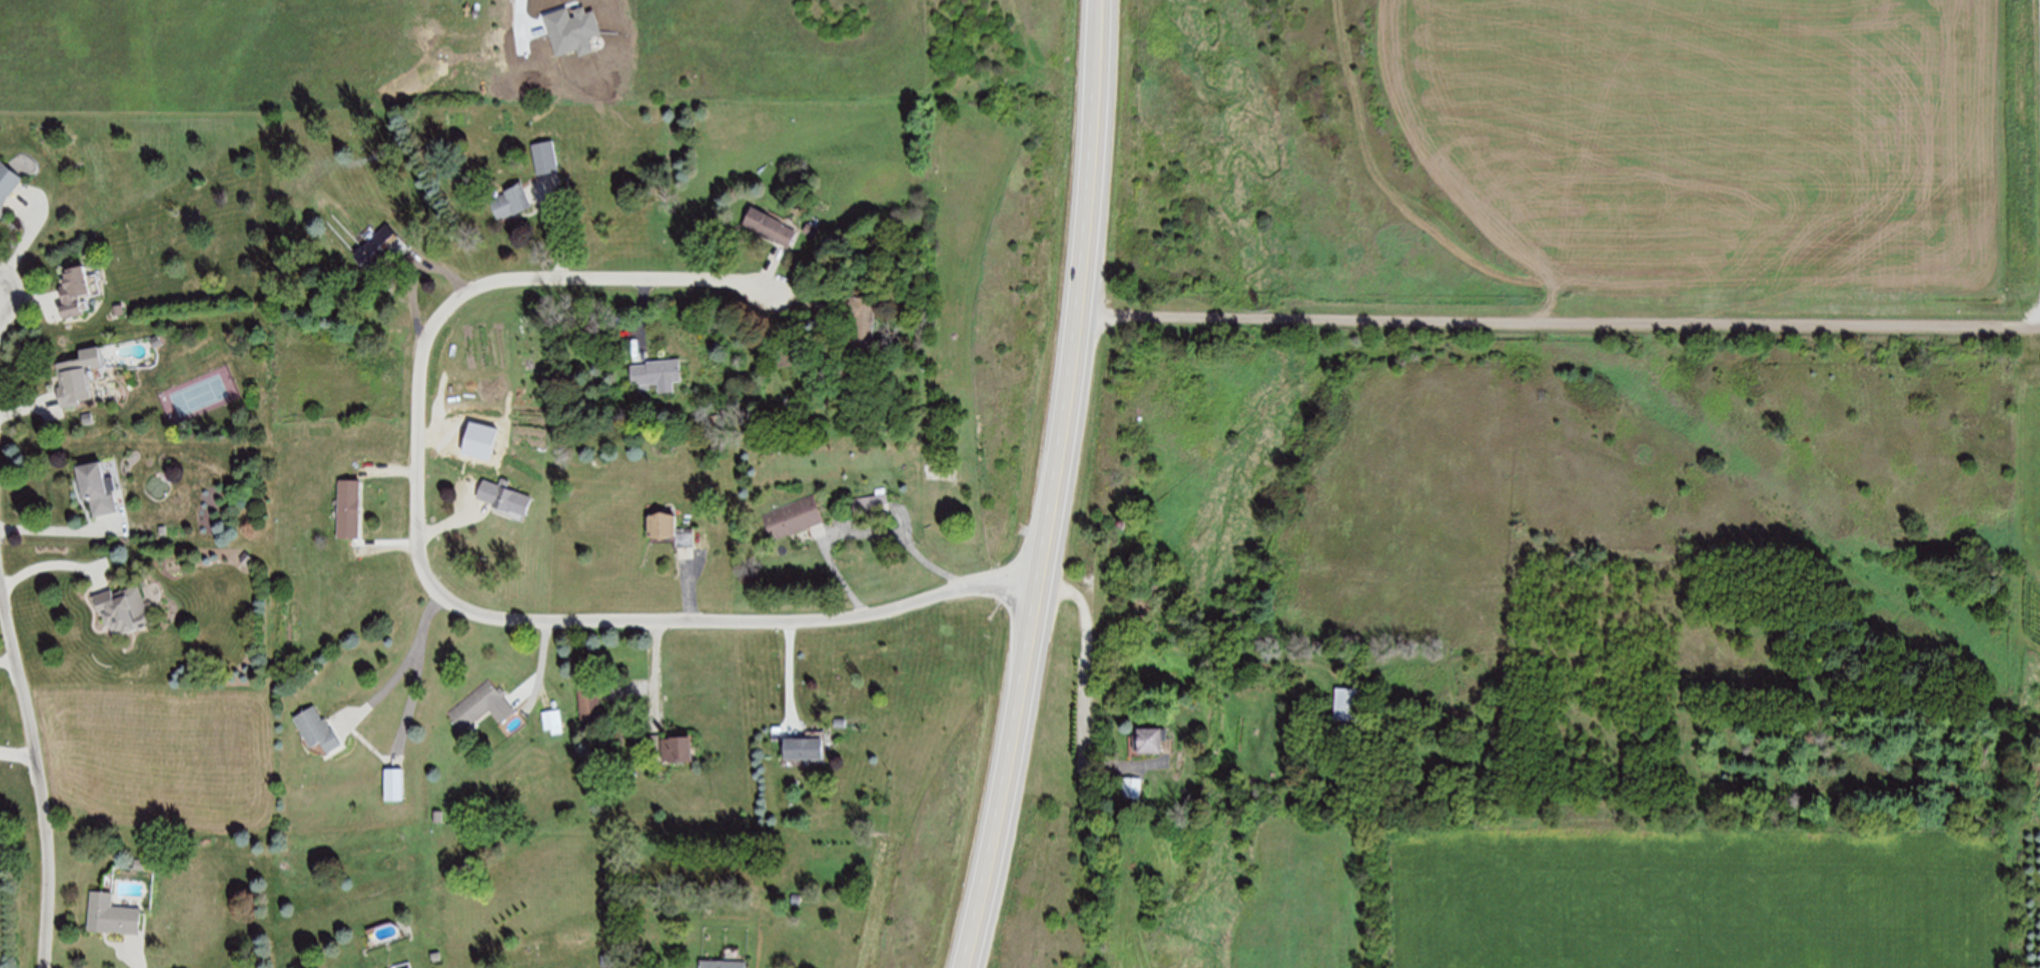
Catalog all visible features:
building: (545, 157)
building: (6, 182)
building: (511, 202)
building: (767, 225)
road: (558, 230)
road: (25, 243)
building: (374, 248)
road: (770, 269)
road: (416, 274)
building: (71, 290)
road: (26, 298)
road: (799, 298)
road: (643, 316)
road: (1559, 321)
building: (857, 326)
building: (659, 373)
building: (79, 375)
park: (200, 394)
road: (26, 410)
building: (492, 451)
road: (389, 469)
building: (97, 487)
road: (1058, 487)
building: (504, 497)
building: (873, 506)
building: (348, 509)
building: (792, 517)
road: (447, 522)
road: (60, 529)
building: (669, 529)
road: (863, 533)
road: (388, 546)
road: (54, 564)
road: (433, 586)
road: (689, 586)
building: (122, 610)
road: (8, 660)
road: (541, 674)
road: (656, 674)
road: (788, 675)
road: (418, 676)
road: (387, 688)
road: (1086, 693)
building: (589, 700)
building: (475, 703)
building: (1349, 703)
building: (551, 719)
building: (317, 729)
building: (1149, 741)
building: (669, 746)
building: (805, 746)
road: (19, 753)
road: (40, 769)
building: (393, 784)
building: (1132, 787)
building: (111, 915)
road: (134, 956)
building: (723, 964)

